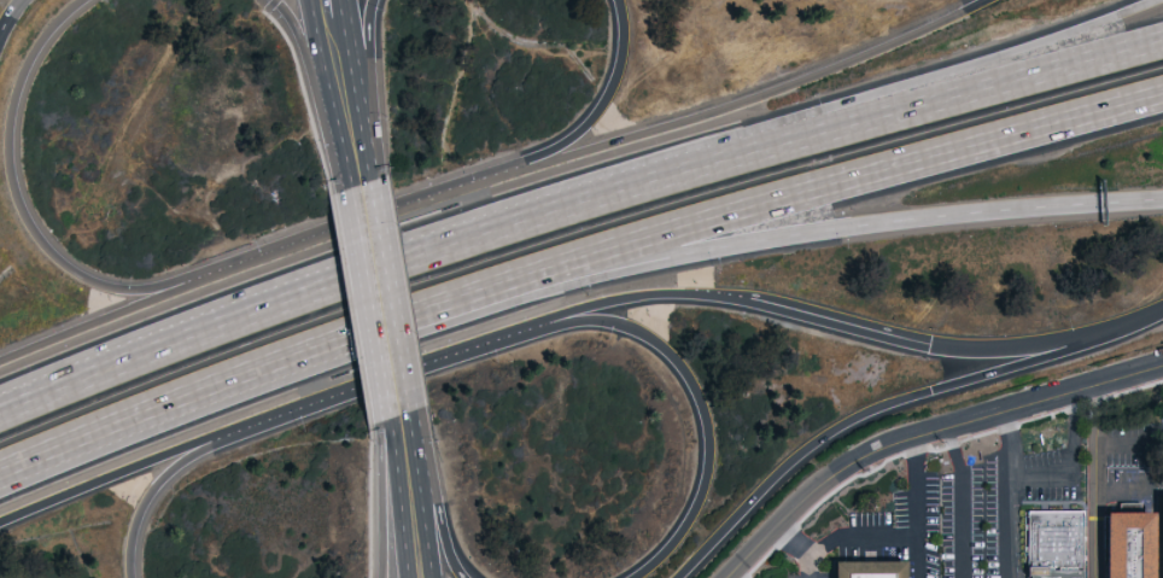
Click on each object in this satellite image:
road: (268, 5)
road: (10, 8)
road: (345, 18)
road: (2, 24)
road: (303, 48)
road: (317, 49)
road: (968, 66)
road: (369, 75)
road: (976, 88)
road: (358, 94)
road: (737, 101)
road: (589, 115)
road: (337, 150)
road: (373, 173)
road: (791, 193)
road: (19, 209)
road: (917, 216)
road: (351, 220)
road: (390, 263)
road: (549, 280)
road: (393, 302)
road: (366, 309)
road: (110, 314)
road: (840, 320)
road: (372, 322)
road: (381, 378)
road: (696, 393)
road: (158, 403)
road: (878, 404)
road: (414, 425)
road: (923, 432)
road: (1124, 442)
road: (1073, 462)
road: (121, 469)
road: (157, 480)
road: (1097, 481)
road: (1011, 494)
road: (381, 497)
road: (395, 498)
road: (960, 501)
road: (918, 506)
road: (422, 509)
road: (438, 510)
building: (1157, 536)
road: (859, 537)
building: (1059, 545)
building: (1134, 545)
road: (800, 548)
building: (872, 570)
road: (732, 576)

